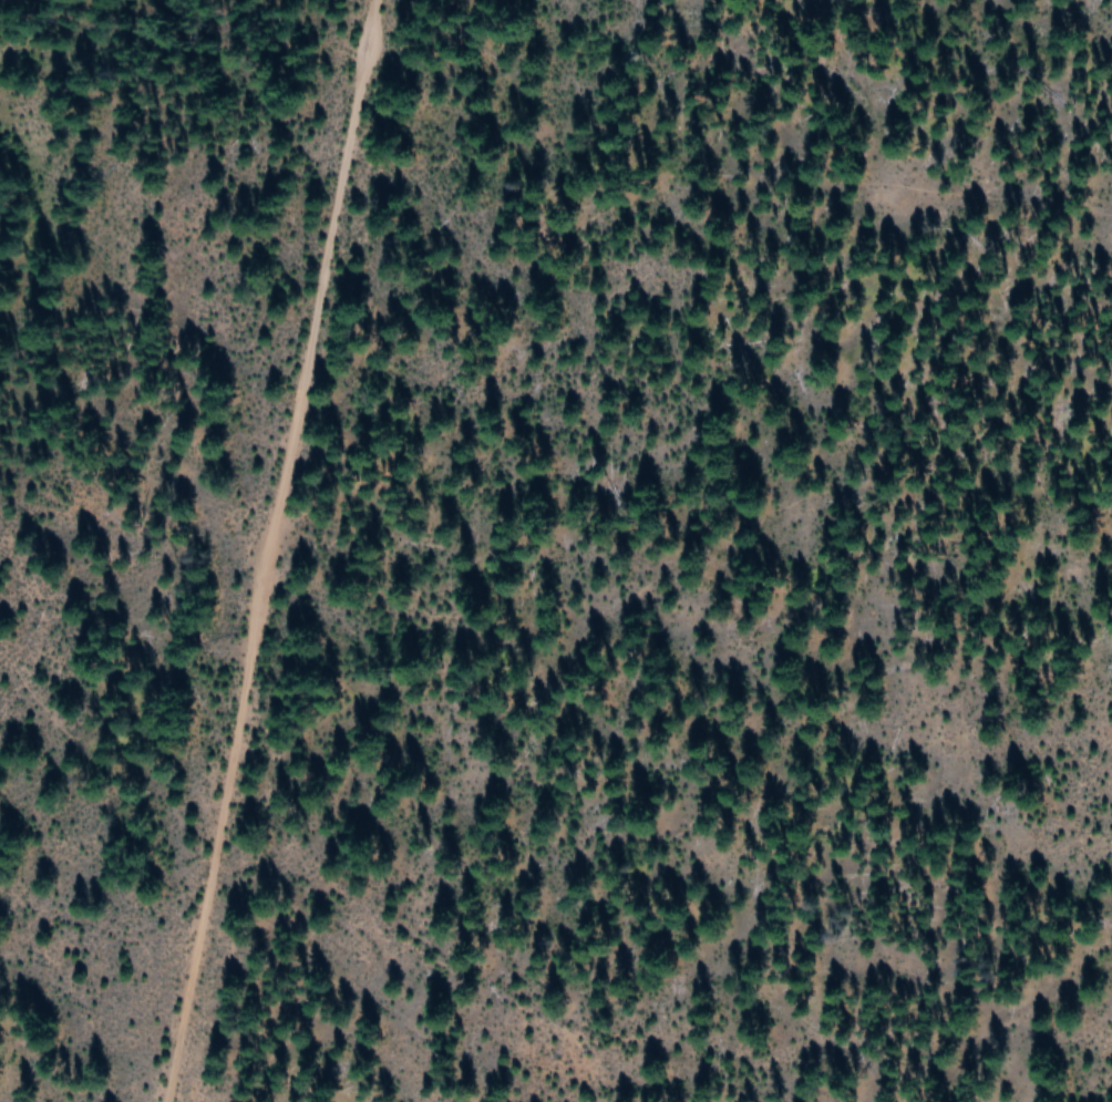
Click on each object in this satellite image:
road: (274, 550)

